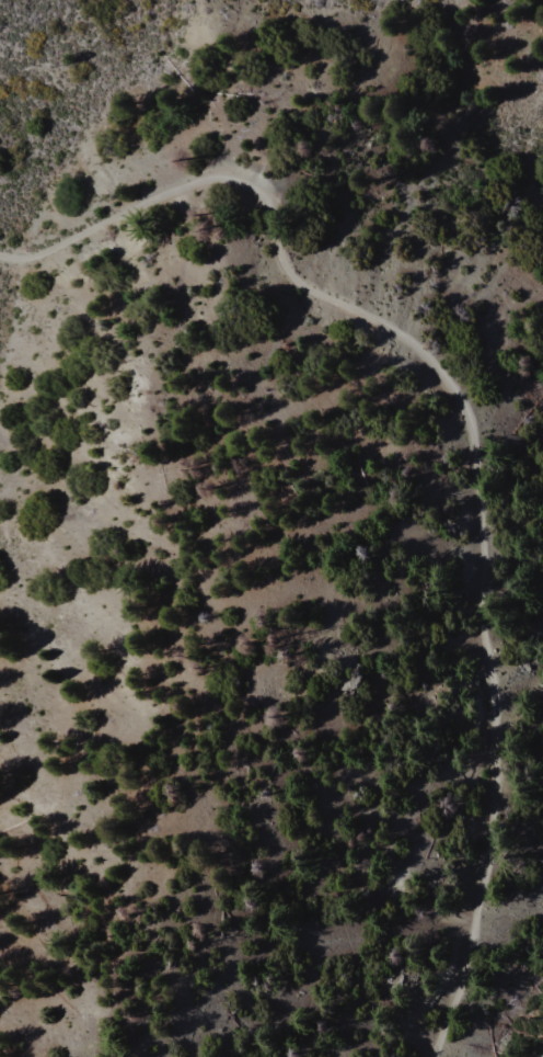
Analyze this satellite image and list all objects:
road: (108, 221)
road: (482, 556)

